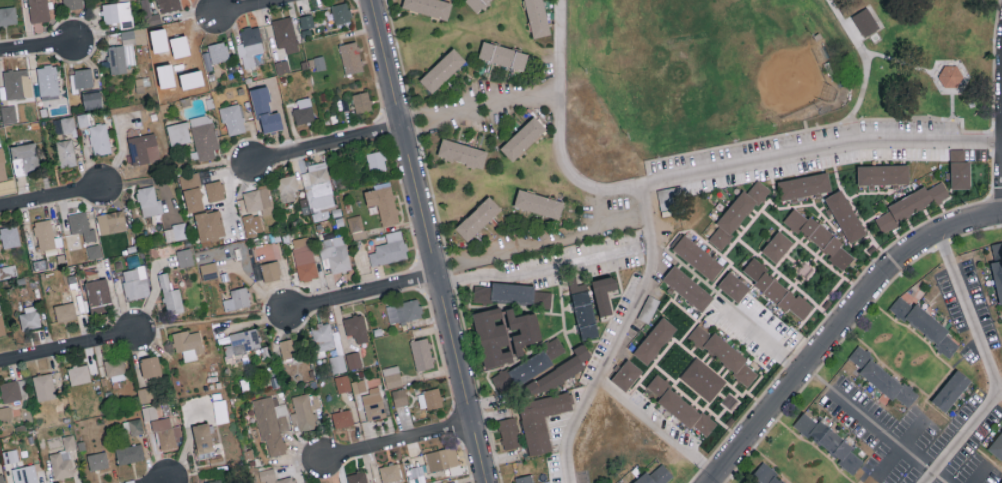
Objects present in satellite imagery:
building: (72, 3)
building: (476, 3)
building: (168, 5)
road: (241, 6)
building: (428, 7)
building: (38, 10)
building: (341, 12)
building: (118, 13)
building: (150, 13)
building: (8, 15)
building: (535, 18)
building: (306, 21)
building: (866, 22)
building: (285, 34)
building: (121, 37)
road: (36, 43)
building: (250, 45)
building: (177, 47)
building: (218, 51)
building: (120, 57)
building: (351, 57)
building: (504, 57)
road: (865, 57)
road: (941, 63)
building: (282, 66)
park: (755, 66)
building: (441, 72)
building: (81, 77)
park: (771, 77)
building: (950, 77)
road: (993, 79)
building: (48, 80)
building: (17, 83)
road: (525, 95)
building: (92, 99)
building: (362, 100)
road: (951, 105)
building: (303, 110)
road: (437, 113)
building: (8, 114)
building: (232, 117)
building: (83, 119)
building: (269, 119)
building: (64, 125)
road: (805, 129)
building: (178, 133)
building: (204, 136)
building: (521, 136)
building: (99, 138)
road: (326, 141)
building: (143, 148)
building: (66, 152)
parking lot: (826, 152)
building: (460, 153)
building: (25, 157)
building: (376, 161)
building: (2, 165)
building: (960, 172)
road: (697, 174)
building: (882, 175)
building: (287, 188)
building: (193, 189)
building: (802, 189)
building: (215, 190)
road: (51, 193)
building: (257, 199)
building: (149, 201)
building: (383, 202)
building: (538, 204)
building: (911, 208)
building: (844, 216)
building: (736, 217)
building: (111, 221)
building: (480, 221)
building: (209, 224)
building: (81, 225)
building: (249, 225)
building: (356, 225)
building: (175, 231)
building: (45, 234)
building: (10, 236)
building: (819, 237)
road: (549, 240)
road: (429, 241)
building: (776, 247)
building: (389, 248)
building: (94, 250)
building: (335, 253)
building: (185, 256)
building: (305, 258)
building: (698, 258)
parking lot: (581, 261)
building: (998, 264)
building: (208, 270)
building: (271, 270)
road: (536, 274)
building: (136, 282)
building: (733, 287)
building: (686, 288)
building: (775, 288)
road: (361, 290)
building: (511, 293)
building: (604, 293)
building: (98, 294)
building: (170, 295)
building: (237, 298)
building: (583, 309)
building: (403, 310)
building: (65, 311)
building: (30, 316)
building: (2, 325)
building: (356, 327)
road: (840, 328)
building: (925, 329)
building: (504, 333)
building: (323, 336)
road: (620, 336)
building: (243, 341)
building: (652, 341)
road: (68, 343)
building: (189, 343)
building: (287, 348)
building: (422, 353)
building: (724, 354)
building: (353, 359)
road: (799, 362)
building: (337, 363)
building: (150, 366)
building: (527, 367)
building: (115, 369)
road: (988, 370)
building: (558, 372)
building: (79, 373)
building: (392, 376)
building: (625, 376)
building: (703, 378)
building: (885, 378)
building: (343, 382)
building: (358, 385)
building: (44, 386)
building: (10, 390)
building: (950, 391)
road: (999, 394)
building: (145, 395)
building: (400, 396)
building: (430, 398)
building: (374, 403)
building: (680, 406)
building: (305, 410)
building: (342, 417)
building: (541, 420)
building: (272, 423)
building: (134, 426)
road: (657, 429)
building: (167, 432)
parking lot: (965, 432)
building: (509, 434)
road: (397, 437)
building: (203, 439)
building: (828, 443)
building: (997, 447)
building: (129, 453)
building: (63, 458)
building: (441, 458)
building: (97, 460)
building: (390, 472)
building: (24, 474)
building: (267, 474)
building: (658, 476)
building: (767, 476)
building: (357, 477)
building: (2, 478)
parking lot: (911, 479)
road: (155, 480)
building: (286, 480)
building: (529, 480)
building: (214, 481)
building: (441, 482)
building: (1001, 482)

